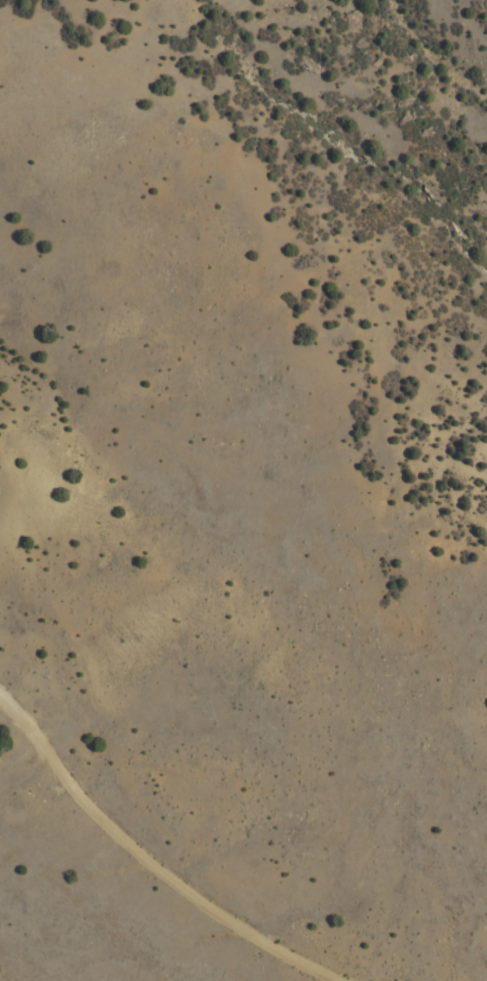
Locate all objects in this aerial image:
road: (124, 883)

